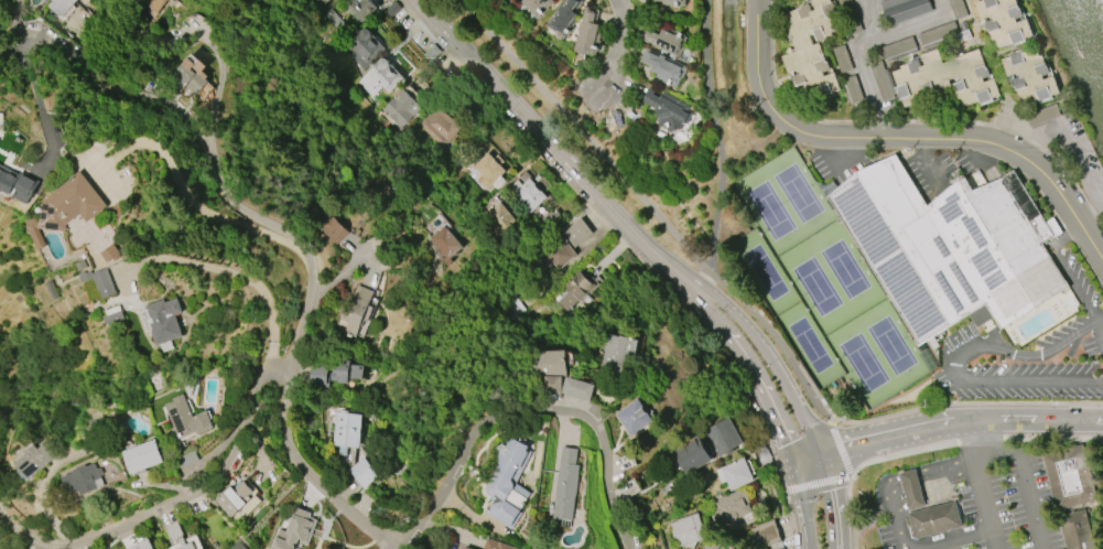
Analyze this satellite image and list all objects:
building: (324, 1)
building: (670, 2)
building: (32, 3)
building: (152, 4)
building: (61, 6)
building: (537, 6)
building: (360, 9)
building: (392, 9)
building: (958, 9)
building: (905, 10)
building: (851, 17)
building: (563, 18)
road: (872, 20)
building: (1005, 22)
road: (918, 23)
building: (587, 32)
building: (938, 33)
building: (664, 40)
road: (616, 46)
building: (811, 46)
road: (19, 47)
building: (366, 47)
building: (899, 49)
building: (431, 52)
building: (842, 58)
building: (661, 67)
building: (191, 74)
building: (1030, 76)
building: (380, 78)
building: (947, 78)
building: (882, 80)
road: (868, 83)
building: (853, 89)
building: (400, 109)
building: (666, 109)
road: (520, 112)
building: (1043, 115)
building: (1, 122)
building: (439, 126)
road: (714, 134)
road: (901, 141)
road: (1077, 143)
building: (489, 171)
road: (174, 179)
building: (7, 183)
park: (798, 192)
building: (526, 195)
building: (68, 204)
park: (769, 208)
road: (651, 209)
building: (499, 218)
building: (333, 230)
building: (34, 232)
building: (444, 245)
building: (949, 245)
building: (562, 247)
road: (632, 252)
building: (109, 254)
park: (845, 267)
road: (226, 270)
park: (765, 270)
road: (1066, 270)
road: (336, 279)
building: (99, 283)
park: (817, 283)
building: (572, 290)
building: (357, 311)
building: (113, 317)
road: (1101, 320)
building: (161, 323)
road: (300, 323)
road: (747, 327)
road: (729, 340)
park: (810, 343)
park: (891, 343)
building: (617, 352)
parking lot: (1030, 354)
road: (961, 356)
park: (863, 360)
building: (550, 369)
building: (334, 373)
building: (577, 388)
road: (820, 396)
road: (974, 405)
building: (187, 418)
building: (635, 418)
road: (833, 421)
road: (952, 422)
road: (876, 426)
building: (346, 432)
road: (972, 435)
building: (722, 438)
road: (802, 440)
road: (976, 442)
road: (840, 450)
road: (602, 453)
building: (692, 455)
building: (143, 456)
building: (35, 460)
building: (186, 460)
road: (452, 469)
traffic signals: (812, 470)
building: (364, 473)
road: (305, 474)
building: (734, 474)
building: (84, 480)
road: (1026, 480)
building: (509, 482)
road: (900, 483)
building: (565, 485)
building: (1070, 494)
building: (239, 499)
road: (835, 504)
road: (987, 506)
building: (729, 507)
road: (807, 508)
building: (928, 510)
road: (853, 512)
parking lot: (993, 512)
road: (865, 521)
building: (295, 531)
building: (685, 531)
building: (765, 535)
road: (963, 540)
building: (188, 543)
building: (142, 545)
building: (496, 545)
building: (238, 546)
building: (713, 546)
road: (949, 547)
building: (32, 548)
building: (466, 548)

